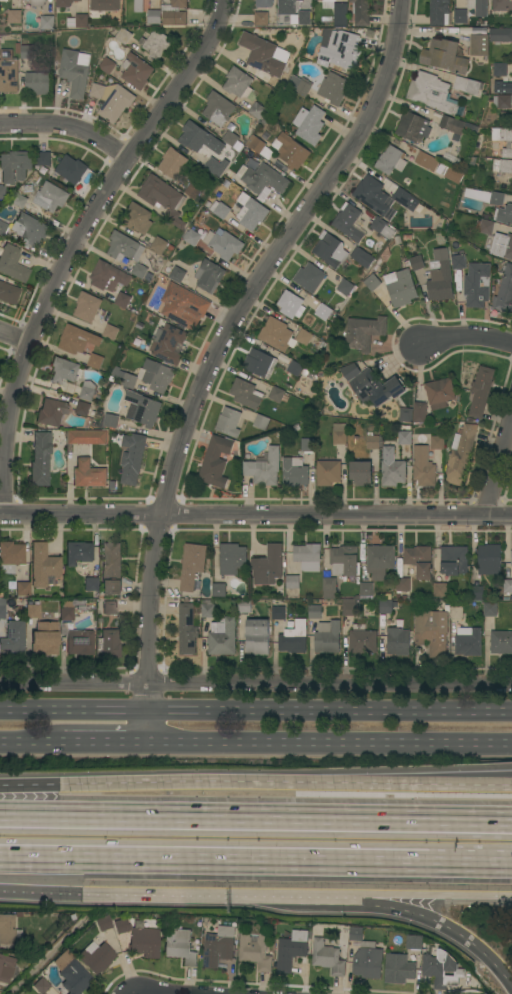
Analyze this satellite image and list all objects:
building: (4, 0)
building: (38, 2)
building: (64, 3)
building: (264, 3)
building: (105, 5)
building: (502, 5)
building: (139, 6)
building: (287, 7)
building: (479, 7)
building: (337, 12)
building: (361, 12)
building: (439, 12)
building: (174, 14)
building: (502, 14)
building: (14, 16)
building: (154, 17)
building: (460, 17)
building: (261, 19)
building: (301, 19)
building: (78, 21)
building: (47, 23)
building: (484, 24)
building: (479, 31)
building: (500, 35)
building: (123, 36)
building: (156, 44)
building: (511, 44)
building: (479, 45)
building: (340, 50)
building: (27, 52)
building: (264, 55)
building: (444, 57)
building: (107, 65)
building: (500, 70)
building: (75, 71)
building: (8, 72)
building: (136, 72)
building: (38, 83)
building: (238, 83)
building: (300, 85)
building: (467, 85)
building: (509, 88)
building: (334, 89)
building: (432, 93)
building: (112, 100)
building: (500, 102)
building: (218, 109)
building: (257, 111)
building: (309, 124)
road: (68, 127)
building: (413, 127)
building: (456, 127)
building: (501, 134)
building: (192, 135)
building: (230, 138)
building: (395, 141)
building: (255, 144)
building: (409, 150)
building: (290, 151)
building: (507, 153)
building: (267, 154)
building: (43, 159)
building: (391, 160)
building: (425, 160)
building: (172, 163)
building: (15, 166)
building: (212, 166)
building: (281, 166)
building: (503, 166)
building: (71, 169)
building: (43, 171)
building: (453, 176)
building: (263, 179)
building: (195, 191)
building: (1, 192)
building: (264, 195)
building: (372, 195)
building: (484, 196)
building: (51, 197)
building: (163, 199)
building: (405, 199)
building: (18, 203)
building: (220, 210)
building: (250, 212)
building: (391, 214)
building: (505, 215)
building: (138, 218)
building: (348, 223)
building: (486, 227)
building: (2, 228)
building: (381, 228)
building: (31, 229)
building: (191, 237)
building: (408, 238)
building: (398, 240)
road: (73, 242)
building: (159, 245)
building: (223, 245)
building: (502, 246)
building: (124, 247)
building: (171, 248)
building: (329, 250)
building: (362, 258)
building: (458, 262)
building: (11, 263)
building: (414, 263)
building: (140, 271)
building: (177, 275)
building: (209, 276)
building: (108, 277)
building: (309, 278)
building: (440, 278)
building: (460, 281)
building: (372, 283)
building: (477, 285)
building: (345, 287)
building: (400, 288)
building: (504, 290)
building: (8, 293)
building: (123, 300)
building: (291, 305)
building: (184, 306)
building: (87, 307)
building: (323, 311)
building: (111, 332)
building: (364, 332)
building: (277, 335)
building: (304, 337)
road: (13, 338)
road: (468, 338)
building: (77, 340)
building: (168, 344)
road: (217, 353)
building: (95, 362)
building: (260, 363)
building: (295, 368)
building: (63, 370)
building: (350, 371)
building: (157, 376)
building: (124, 378)
building: (375, 388)
building: (87, 391)
building: (481, 391)
building: (439, 393)
building: (246, 394)
building: (278, 395)
building: (82, 409)
building: (142, 409)
building: (51, 412)
building: (420, 412)
building: (406, 415)
building: (111, 421)
building: (229, 422)
building: (261, 422)
building: (339, 434)
building: (86, 437)
building: (405, 438)
building: (373, 442)
building: (437, 443)
building: (307, 445)
building: (461, 451)
building: (40, 459)
building: (133, 460)
building: (215, 461)
building: (392, 468)
building: (424, 468)
building: (264, 469)
road: (500, 470)
building: (295, 472)
building: (328, 472)
building: (88, 473)
building: (361, 473)
building: (116, 474)
road: (255, 516)
building: (78, 553)
building: (10, 556)
building: (308, 557)
building: (511, 558)
building: (232, 559)
building: (489, 559)
building: (454, 560)
building: (344, 561)
building: (380, 561)
building: (419, 561)
building: (192, 565)
building: (43, 566)
building: (268, 566)
building: (110, 567)
building: (400, 568)
building: (292, 582)
building: (90, 584)
building: (403, 585)
building: (22, 588)
building: (329, 588)
building: (366, 589)
building: (507, 589)
building: (219, 590)
building: (440, 590)
building: (476, 593)
building: (442, 602)
building: (244, 606)
building: (386, 606)
building: (110, 607)
building: (349, 607)
building: (32, 609)
building: (208, 609)
building: (1, 610)
building: (490, 610)
building: (66, 611)
building: (315, 612)
building: (456, 612)
building: (278, 613)
building: (187, 629)
building: (431, 629)
building: (14, 637)
building: (257, 637)
building: (328, 637)
building: (44, 638)
building: (294, 638)
building: (223, 639)
building: (398, 640)
building: (79, 642)
building: (362, 642)
building: (468, 642)
building: (501, 642)
building: (108, 643)
road: (256, 686)
road: (256, 712)
road: (32, 744)
road: (105, 745)
road: (329, 745)
road: (283, 782)
road: (28, 790)
road: (239, 820)
road: (495, 823)
road: (214, 857)
road: (470, 861)
road: (41, 885)
road: (190, 891)
road: (334, 892)
road: (441, 893)
road: (404, 907)
building: (103, 923)
building: (8, 930)
building: (356, 934)
building: (140, 939)
building: (414, 942)
building: (179, 946)
building: (218, 947)
building: (291, 950)
road: (478, 950)
building: (255, 951)
road: (53, 955)
building: (96, 957)
building: (328, 958)
building: (367, 961)
building: (6, 968)
building: (398, 969)
building: (442, 970)
building: (71, 974)
building: (40, 985)
road: (152, 992)

